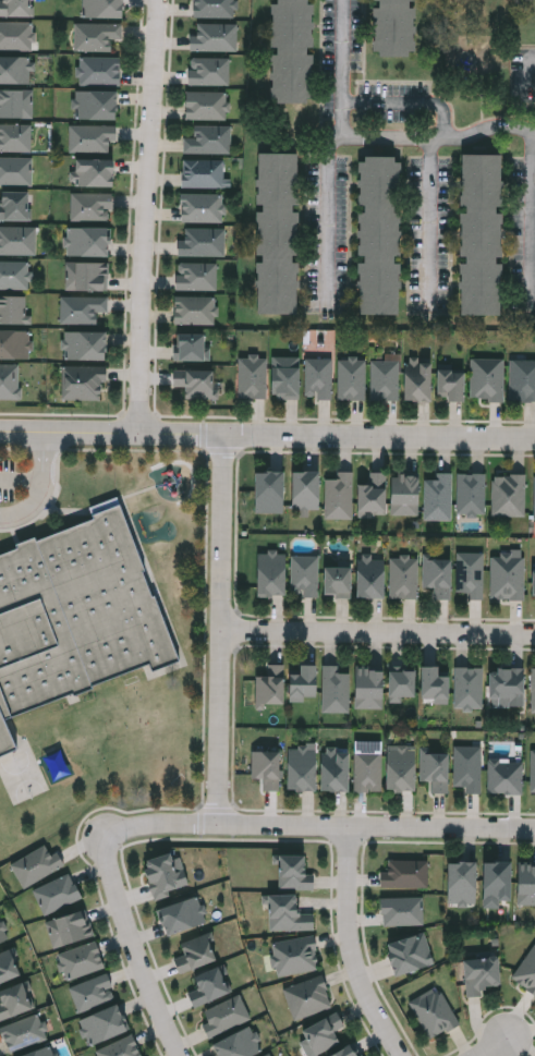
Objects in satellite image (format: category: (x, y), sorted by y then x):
building: (15, 8)
building: (215, 8)
building: (102, 9)
building: (394, 27)
building: (16, 35)
building: (96, 36)
building: (215, 36)
building: (291, 51)
building: (14, 70)
building: (209, 70)
building: (99, 71)
road: (343, 73)
road: (525, 73)
building: (15, 102)
road: (410, 104)
building: (95, 105)
building: (207, 105)
road: (534, 134)
building: (14, 136)
building: (90, 137)
building: (208, 139)
road: (430, 139)
building: (15, 170)
building: (93, 172)
building: (205, 175)
building: (14, 205)
building: (89, 206)
building: (202, 207)
road: (325, 209)
road: (428, 216)
road: (148, 217)
road: (533, 218)
building: (277, 233)
building: (479, 234)
building: (379, 235)
building: (17, 240)
building: (87, 241)
building: (200, 241)
building: (14, 275)
building: (85, 276)
building: (195, 276)
building: (80, 308)
building: (13, 309)
building: (194, 309)
building: (14, 344)
building: (84, 345)
building: (191, 348)
building: (253, 377)
building: (285, 377)
building: (318, 378)
building: (352, 379)
building: (487, 379)
building: (522, 380)
building: (10, 381)
building: (385, 381)
building: (84, 383)
building: (195, 384)
building: (418, 384)
building: (449, 385)
road: (267, 436)
road: (23, 477)
road: (42, 489)
building: (305, 490)
building: (268, 493)
building: (471, 494)
building: (372, 495)
building: (404, 495)
building: (339, 496)
building: (509, 496)
building: (534, 497)
building: (439, 498)
building: (270, 574)
building: (471, 574)
building: (304, 576)
building: (437, 576)
building: (508, 576)
building: (403, 578)
building: (369, 579)
building: (337, 582)
building: (533, 582)
building: (75, 615)
road: (221, 631)
road: (378, 633)
building: (401, 682)
building: (302, 683)
building: (433, 684)
building: (269, 687)
building: (368, 687)
building: (507, 687)
building: (469, 688)
building: (335, 690)
building: (533, 690)
building: (265, 768)
building: (467, 768)
building: (300, 769)
building: (399, 769)
building: (434, 770)
building: (332, 772)
building: (367, 772)
building: (533, 773)
building: (506, 777)
road: (320, 828)
building: (36, 866)
building: (294, 874)
building: (404, 874)
building: (162, 875)
building: (496, 881)
building: (461, 883)
building: (525, 884)
building: (57, 894)
building: (402, 911)
building: (288, 914)
building: (182, 915)
building: (66, 928)
building: (3, 935)
road: (352, 947)
road: (136, 948)
building: (195, 955)
building: (410, 955)
building: (296, 956)
building: (78, 961)
building: (9, 964)
building: (527, 972)
building: (481, 974)
building: (208, 987)
building: (90, 993)
building: (308, 997)
building: (13, 1002)
building: (435, 1012)
building: (226, 1016)
building: (104, 1025)
building: (22, 1033)
building: (324, 1033)
building: (239, 1044)
road: (495, 1045)
building: (120, 1048)
building: (346, 1052)
building: (45, 1053)
building: (269, 1055)

